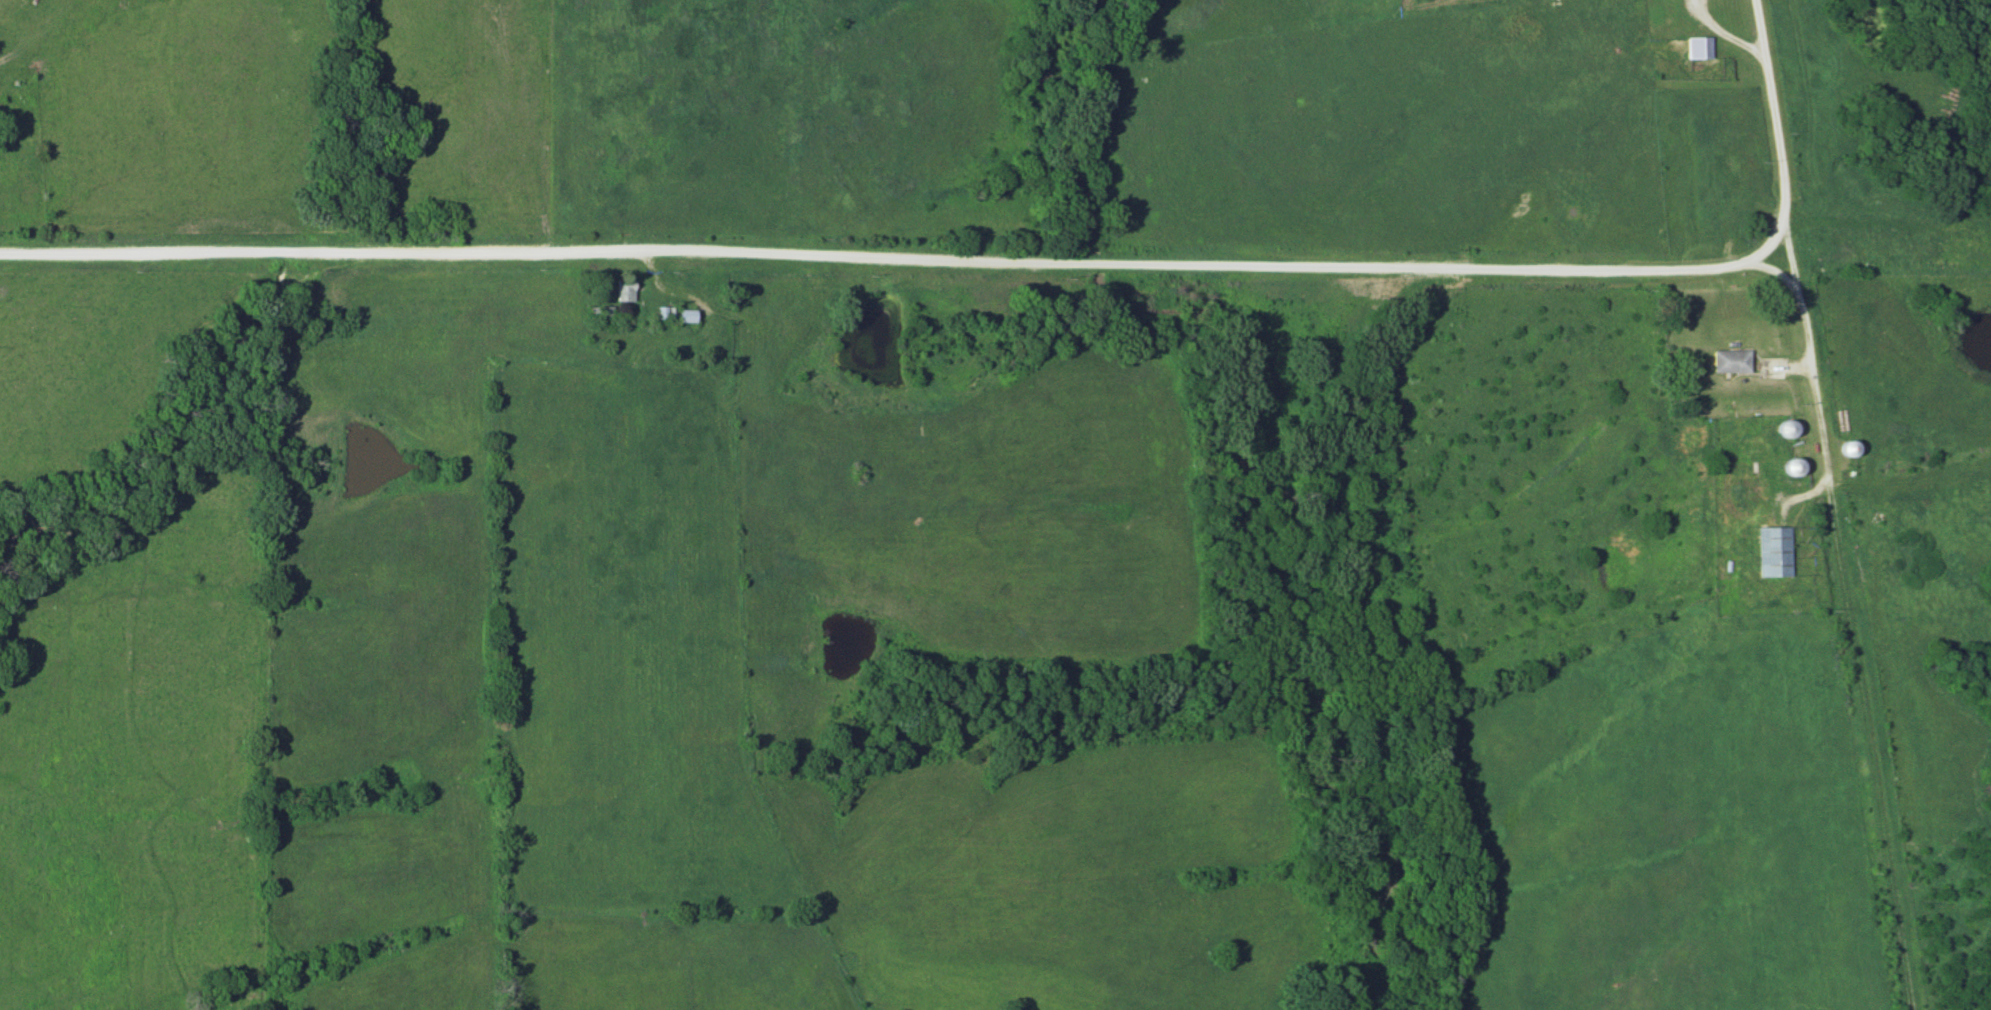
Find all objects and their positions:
building: (1700, 46)
road: (1775, 133)
road: (891, 258)
building: (624, 288)
building: (685, 314)
building: (1734, 359)
building: (1777, 550)

